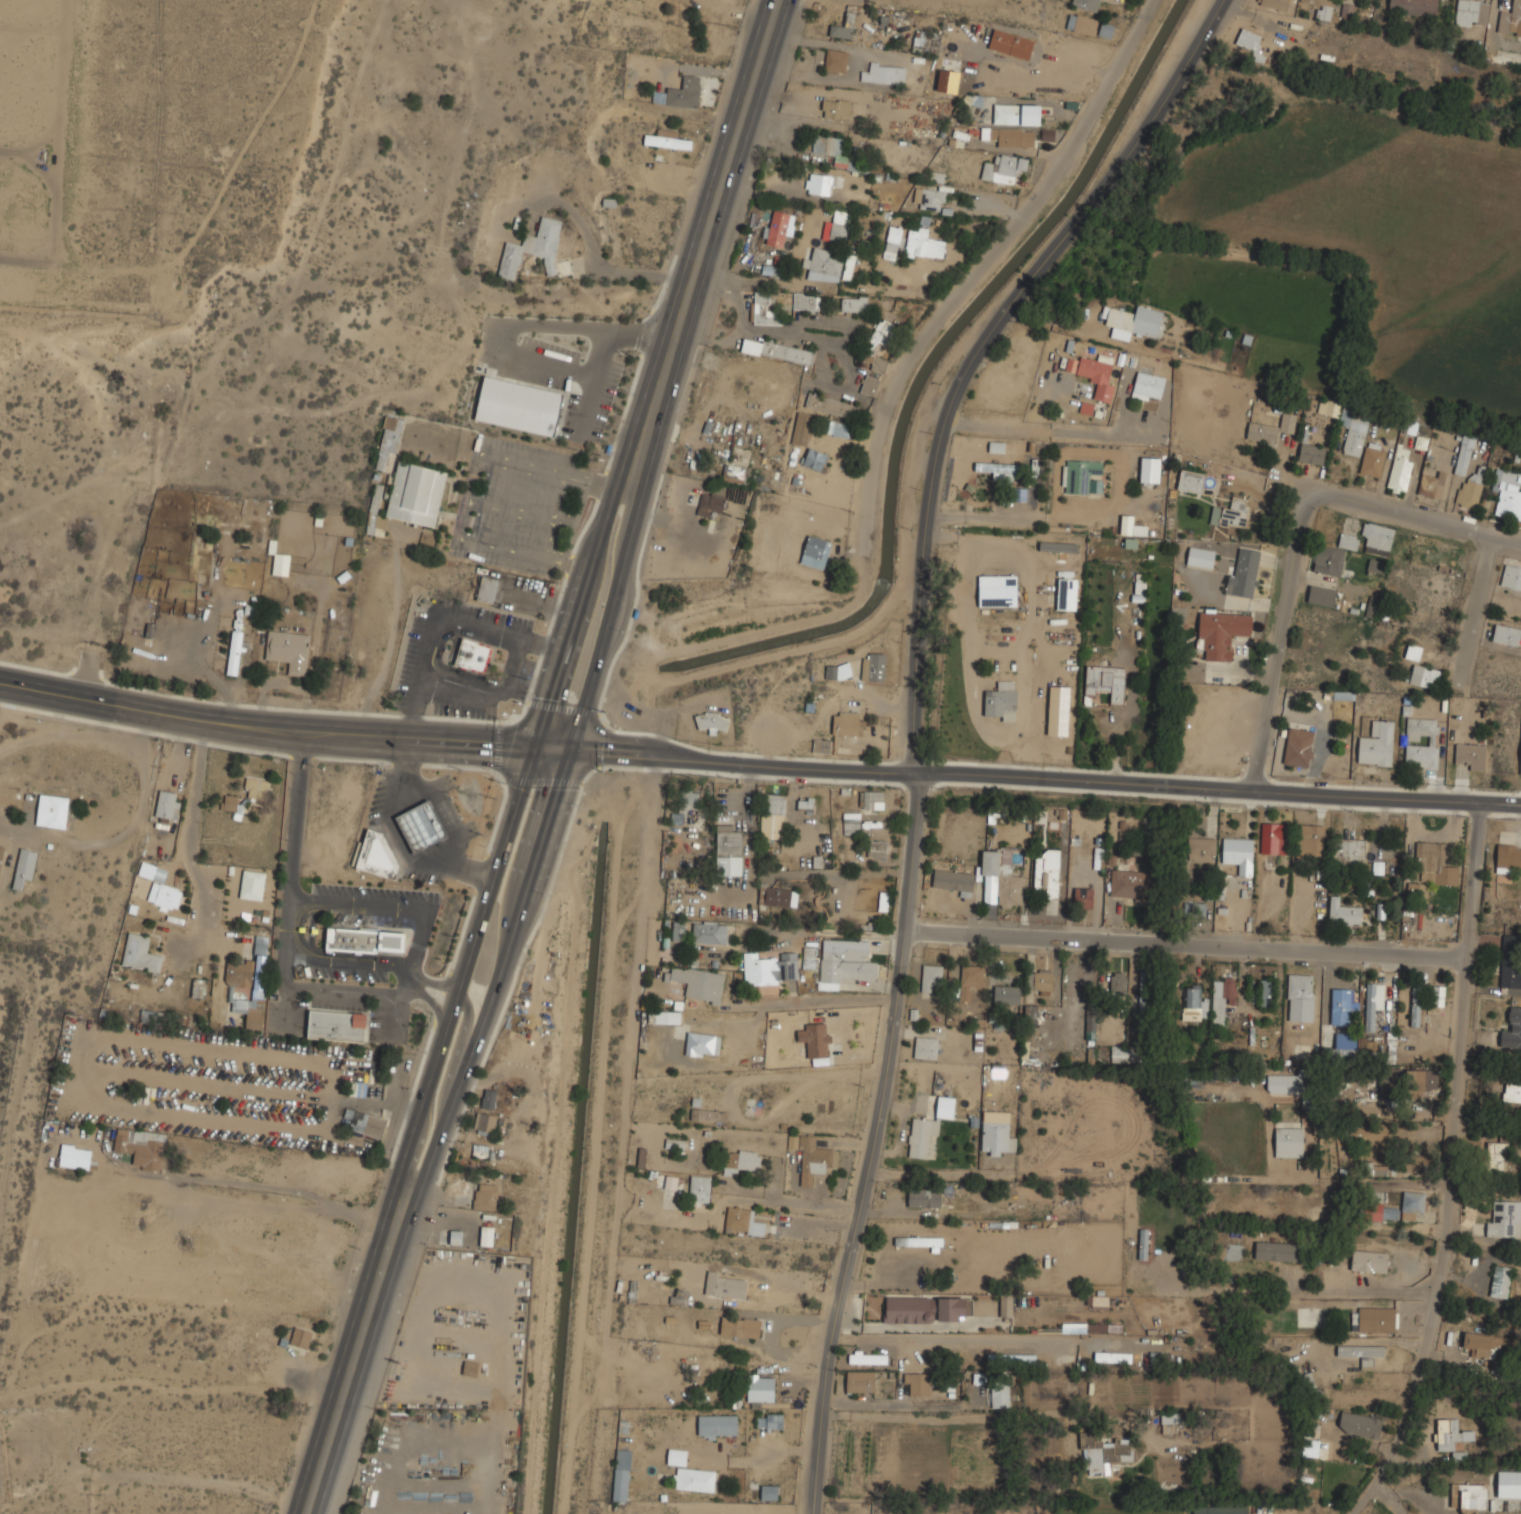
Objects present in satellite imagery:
building: (1087, 3)
building: (1278, 4)
building: (1414, 6)
building: (1321, 7)
building: (1346, 10)
building: (1472, 12)
building: (1511, 20)
building: (1082, 23)
building: (844, 26)
building: (927, 42)
building: (1250, 42)
building: (1017, 45)
building: (836, 60)
building: (885, 72)
building: (946, 75)
building: (684, 93)
building: (969, 102)
building: (837, 108)
building: (1016, 113)
building: (1014, 136)
building: (667, 140)
park: (150, 141)
building: (836, 152)
building: (1004, 167)
building: (819, 183)
building: (930, 198)
crop: (1357, 219)
building: (780, 227)
building: (837, 227)
building: (894, 239)
road: (703, 242)
building: (923, 243)
building: (532, 248)
building: (825, 264)
building: (851, 266)
road: (977, 268)
building: (805, 301)
building: (854, 303)
building: (762, 308)
building: (1134, 321)
road: (541, 325)
road: (1106, 339)
building: (870, 348)
building: (777, 350)
building: (1094, 373)
building: (1147, 383)
road: (590, 384)
building: (870, 384)
road: (1042, 401)
building: (832, 405)
building: (517, 406)
building: (1328, 407)
building: (1098, 411)
building: (1418, 427)
building: (802, 428)
building: (837, 428)
building: (1271, 428)
building: (1353, 430)
road: (1072, 433)
building: (388, 440)
building: (1311, 453)
building: (1464, 453)
building: (815, 458)
building: (1372, 458)
building: (999, 469)
building: (1150, 469)
building: (1400, 473)
building: (1079, 474)
building: (1191, 481)
building: (1434, 484)
building: (1471, 489)
building: (1508, 492)
building: (415, 494)
building: (711, 504)
building: (1231, 513)
road: (1303, 535)
building: (1378, 536)
building: (1058, 550)
building: (815, 551)
building: (1334, 554)
building: (1200, 556)
building: (280, 564)
building: (1376, 565)
building: (1244, 573)
building: (1511, 575)
building: (487, 590)
building: (997, 590)
building: (1067, 593)
building: (1322, 595)
building: (1372, 606)
road: (1479, 607)
road: (578, 614)
road: (610, 617)
building: (1221, 631)
building: (1507, 634)
building: (288, 650)
building: (1413, 651)
building: (234, 652)
building: (472, 655)
building: (873, 666)
building: (838, 671)
building: (1424, 675)
building: (1106, 681)
building: (1001, 701)
road: (913, 716)
building: (712, 720)
building: (848, 723)
road: (267, 735)
building: (1433, 741)
building: (1299, 743)
building: (1377, 743)
building: (822, 745)
traffic signals: (538, 748)
road: (555, 749)
traffic signals: (573, 750)
building: (1471, 755)
building: (1520, 761)
road: (1047, 777)
building: (257, 787)
building: (872, 799)
building: (232, 803)
building: (686, 803)
building: (806, 803)
building: (168, 804)
building: (52, 811)
building: (772, 815)
building: (851, 823)
building: (422, 827)
road: (191, 835)
building: (1275, 838)
building: (1309, 840)
building: (878, 848)
building: (1202, 848)
building: (729, 850)
building: (1348, 851)
building: (1, 852)
building: (1238, 853)
building: (376, 857)
building: (1508, 857)
building: (1431, 860)
building: (24, 866)
building: (1003, 879)
building: (947, 881)
building: (1128, 882)
building: (252, 884)
building: (159, 885)
building: (1050, 892)
building: (777, 896)
building: (1083, 897)
parking lot: (375, 905)
building: (1343, 912)
building: (1220, 914)
road: (310, 926)
road: (298, 929)
building: (679, 930)
building: (709, 932)
road: (843, 934)
road: (418, 936)
building: (363, 940)
road: (1186, 941)
building: (141, 953)
road: (285, 953)
building: (809, 957)
building: (846, 960)
building: (1511, 961)
road: (467, 965)
building: (770, 967)
road: (499, 972)
parking lot: (344, 973)
road: (416, 974)
building: (931, 975)
building: (970, 979)
building: (1043, 981)
building: (1118, 981)
building: (698, 982)
building: (249, 984)
road: (436, 984)
building: (198, 989)
building: (1146, 990)
building: (1267, 992)
building: (1007, 994)
building: (1438, 995)
building: (1300, 997)
building: (1222, 998)
road: (816, 1001)
building: (1343, 1001)
building: (1373, 1001)
building: (1192, 1003)
building: (1416, 1004)
building: (1030, 1016)
building: (664, 1017)
building: (337, 1025)
building: (1069, 1025)
building: (1512, 1030)
building: (815, 1038)
building: (1345, 1041)
building: (702, 1043)
building: (926, 1047)
building: (1123, 1053)
road: (455, 1063)
road: (744, 1082)
building: (1286, 1083)
building: (356, 1089)
building: (1382, 1091)
building: (1512, 1092)
park: (22, 1098)
building: (489, 1098)
building: (706, 1115)
building: (366, 1122)
building: (485, 1122)
building: (928, 1126)
building: (997, 1133)
building: (1289, 1138)
building: (674, 1144)
building: (142, 1148)
building: (479, 1151)
building: (1496, 1155)
building: (77, 1156)
building: (642, 1156)
building: (812, 1156)
building: (741, 1160)
road: (1453, 1168)
road: (935, 1173)
building: (361, 1181)
building: (671, 1181)
building: (461, 1184)
building: (700, 1188)
building: (486, 1196)
building: (924, 1197)
building: (1413, 1201)
building: (1392, 1213)
building: (1504, 1218)
building: (743, 1220)
building: (487, 1235)
building: (455, 1237)
building: (919, 1240)
building: (1142, 1244)
building: (1270, 1251)
building: (1370, 1260)
building: (1501, 1280)
building: (715, 1284)
road: (1303, 1291)
building: (1098, 1301)
building: (1006, 1305)
building: (928, 1309)
building: (1373, 1319)
building: (740, 1326)
building: (1106, 1327)
building: (1074, 1328)
building: (301, 1338)
road: (946, 1340)
building: (440, 1341)
building: (1484, 1343)
road: (356, 1349)
building: (1360, 1351)
building: (1113, 1357)
building: (868, 1358)
building: (1011, 1359)
building: (1156, 1359)
building: (470, 1368)
building: (1307, 1380)
building: (860, 1382)
building: (918, 1383)
building: (760, 1387)
building: (1000, 1396)
road: (998, 1419)
building: (769, 1420)
building: (1169, 1422)
building: (717, 1425)
building: (1360, 1425)
building: (1451, 1439)
building: (1309, 1448)
building: (1105, 1451)
building: (1174, 1472)
building: (690, 1473)
building: (622, 1474)
building: (1509, 1483)
building: (765, 1492)
building: (1469, 1495)
building: (1507, 1508)
building: (1220, 1509)

